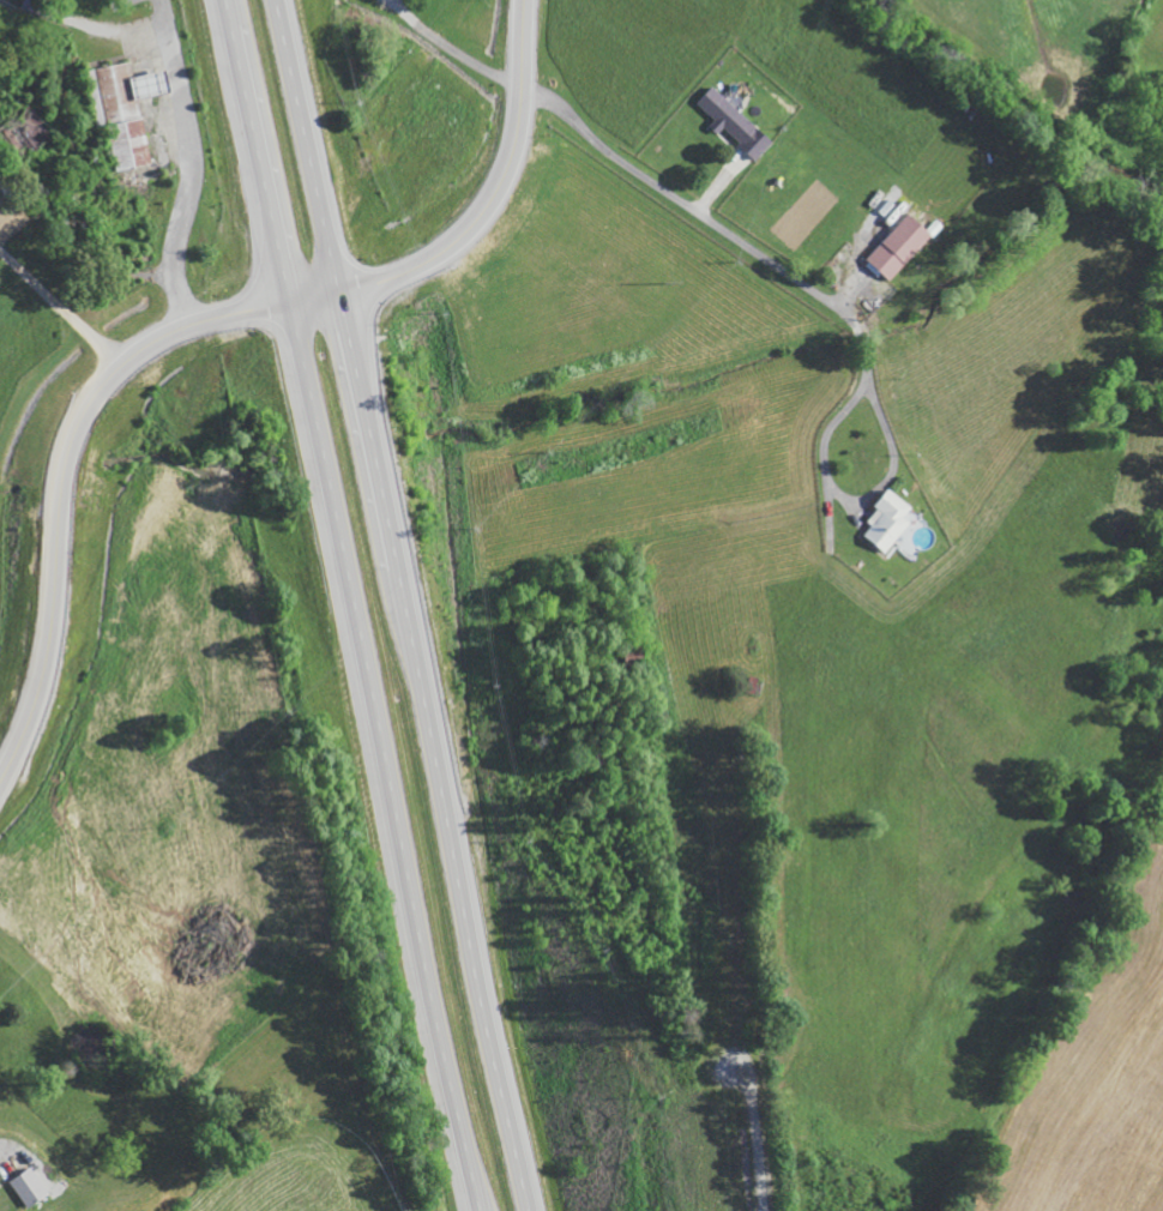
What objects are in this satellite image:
building: (126, 108)
building: (736, 122)
road: (189, 161)
building: (903, 246)
road: (758, 249)
road: (194, 318)
building: (890, 520)
road: (352, 604)
road: (404, 604)
building: (30, 1187)
building: (1, 1193)

